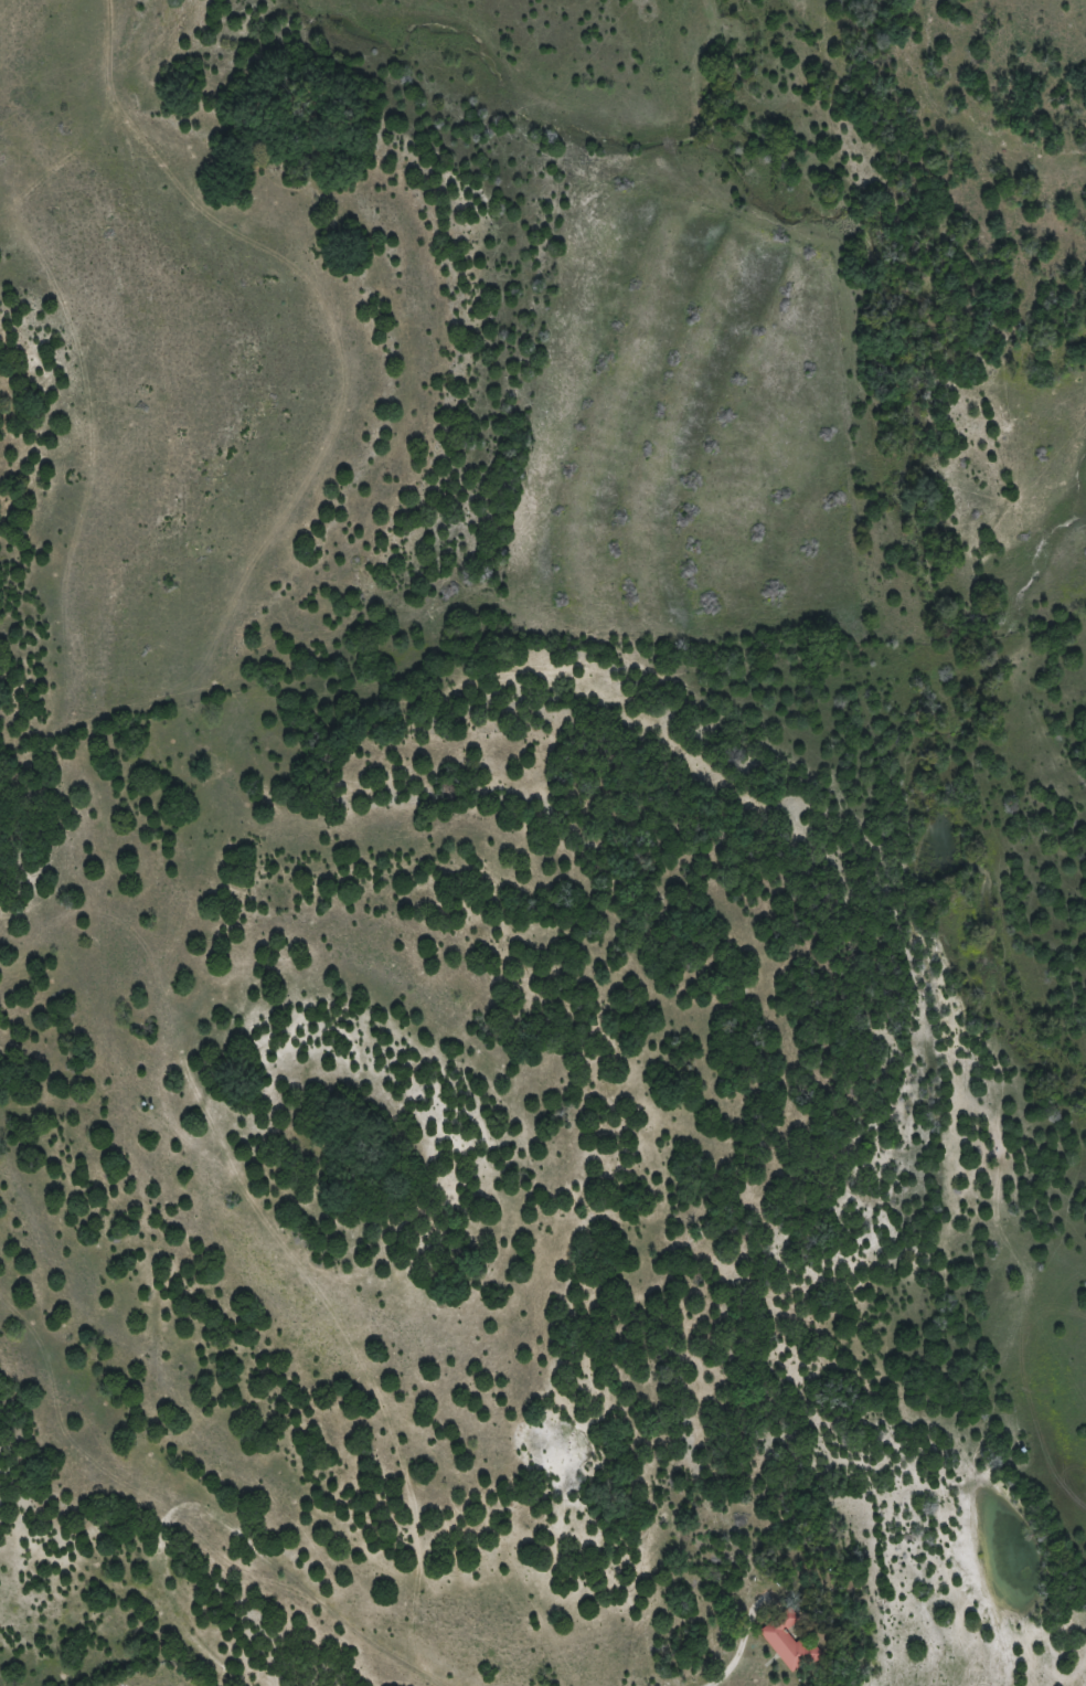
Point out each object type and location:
building: (789, 1643)

